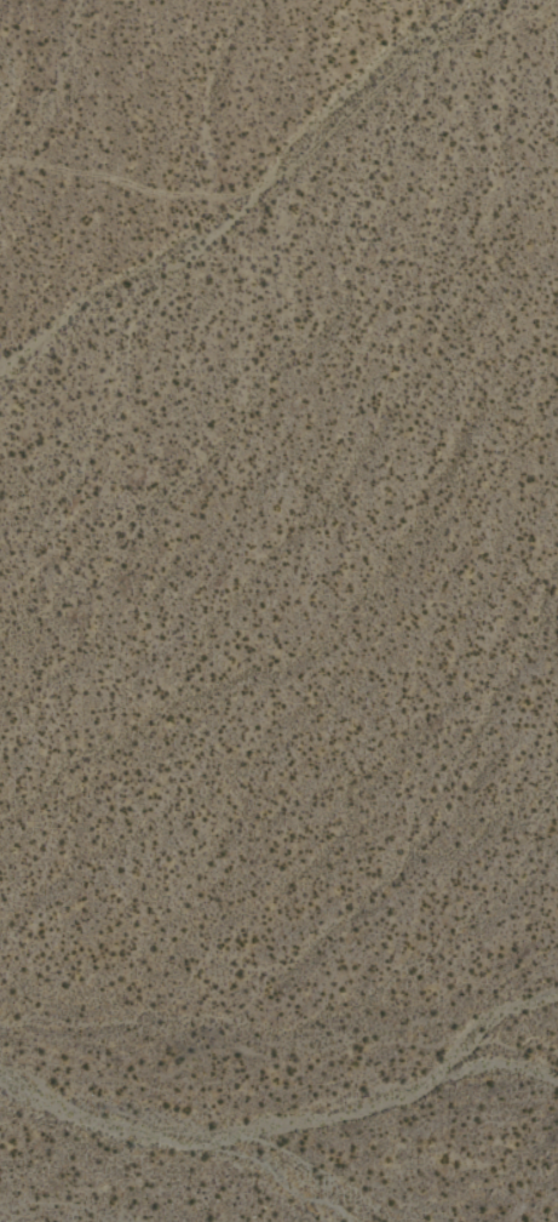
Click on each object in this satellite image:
road: (269, 181)

